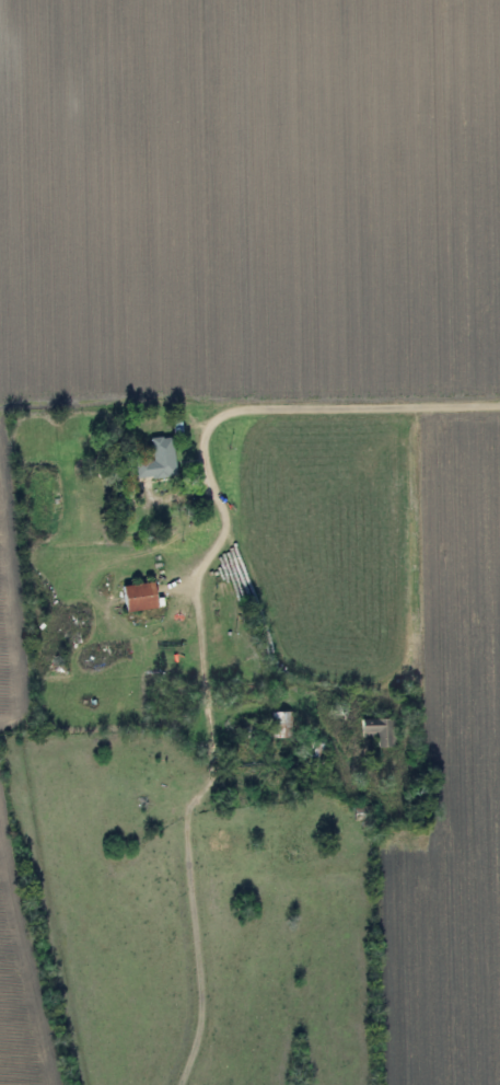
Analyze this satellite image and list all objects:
road: (197, 448)
building: (158, 460)
building: (142, 597)
building: (279, 723)
building: (381, 729)
road: (190, 923)

